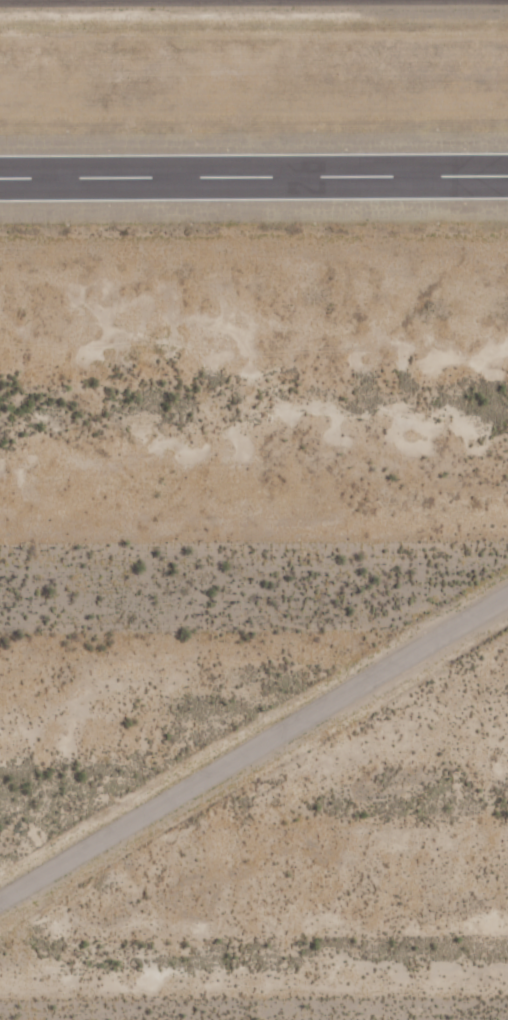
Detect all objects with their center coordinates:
airport runway: (254, 174)
airport taxiway: (254, 745)

